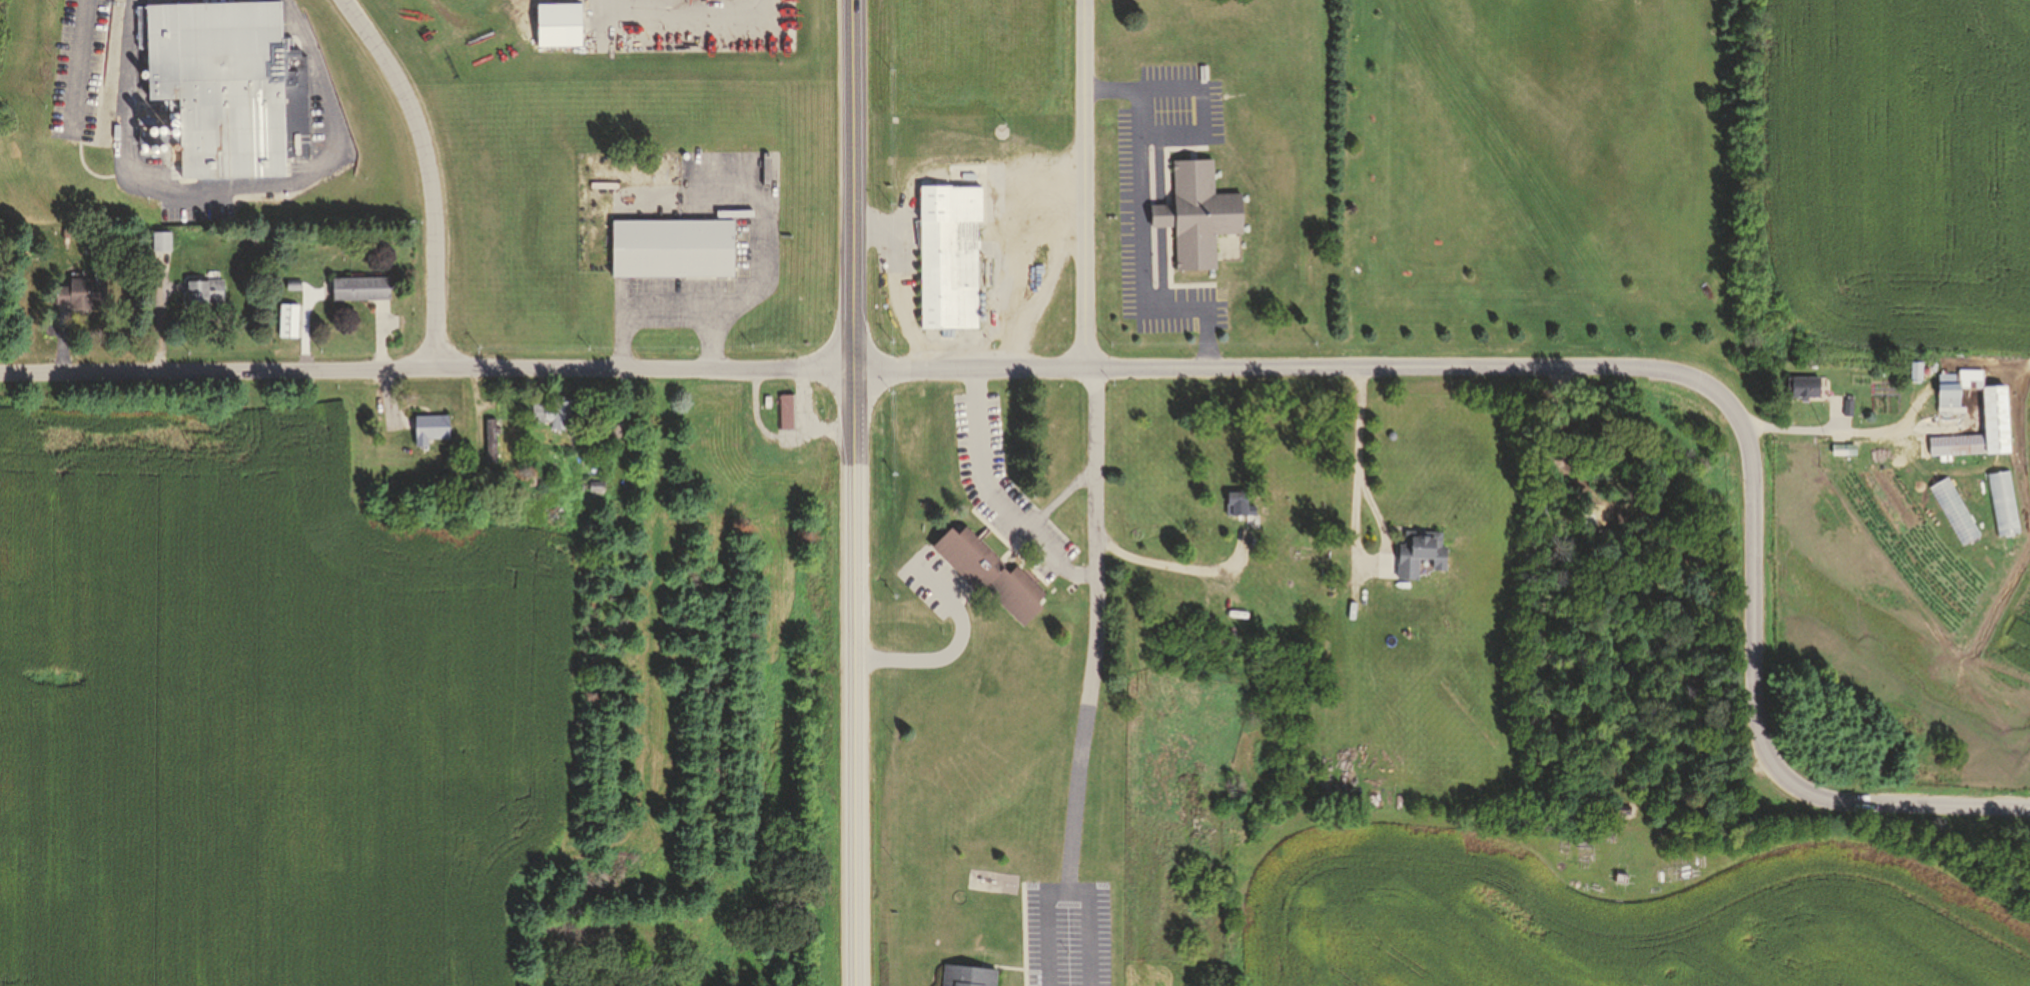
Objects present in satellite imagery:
road: (680, 9)
building: (559, 25)
road: (76, 66)
building: (230, 86)
road: (1203, 109)
building: (1036, 125)
road: (428, 173)
road: (1084, 184)
road: (226, 195)
building: (1196, 217)
road: (1142, 228)
building: (158, 243)
building: (671, 252)
building: (948, 255)
building: (356, 291)
building: (202, 293)
building: (77, 295)
road: (1615, 363)
road: (425, 366)
building: (1912, 372)
building: (1799, 388)
building: (1944, 391)
building: (1987, 397)
building: (784, 410)
building: (547, 415)
building: (428, 428)
road: (1845, 428)
building: (487, 441)
building: (1952, 445)
road: (852, 492)
road: (1061, 496)
building: (1237, 504)
road: (1355, 513)
road: (1037, 539)
building: (1416, 556)
road: (1177, 566)
building: (990, 575)
road: (1095, 632)
road: (1066, 894)
parking lot: (1067, 933)
building: (965, 976)

